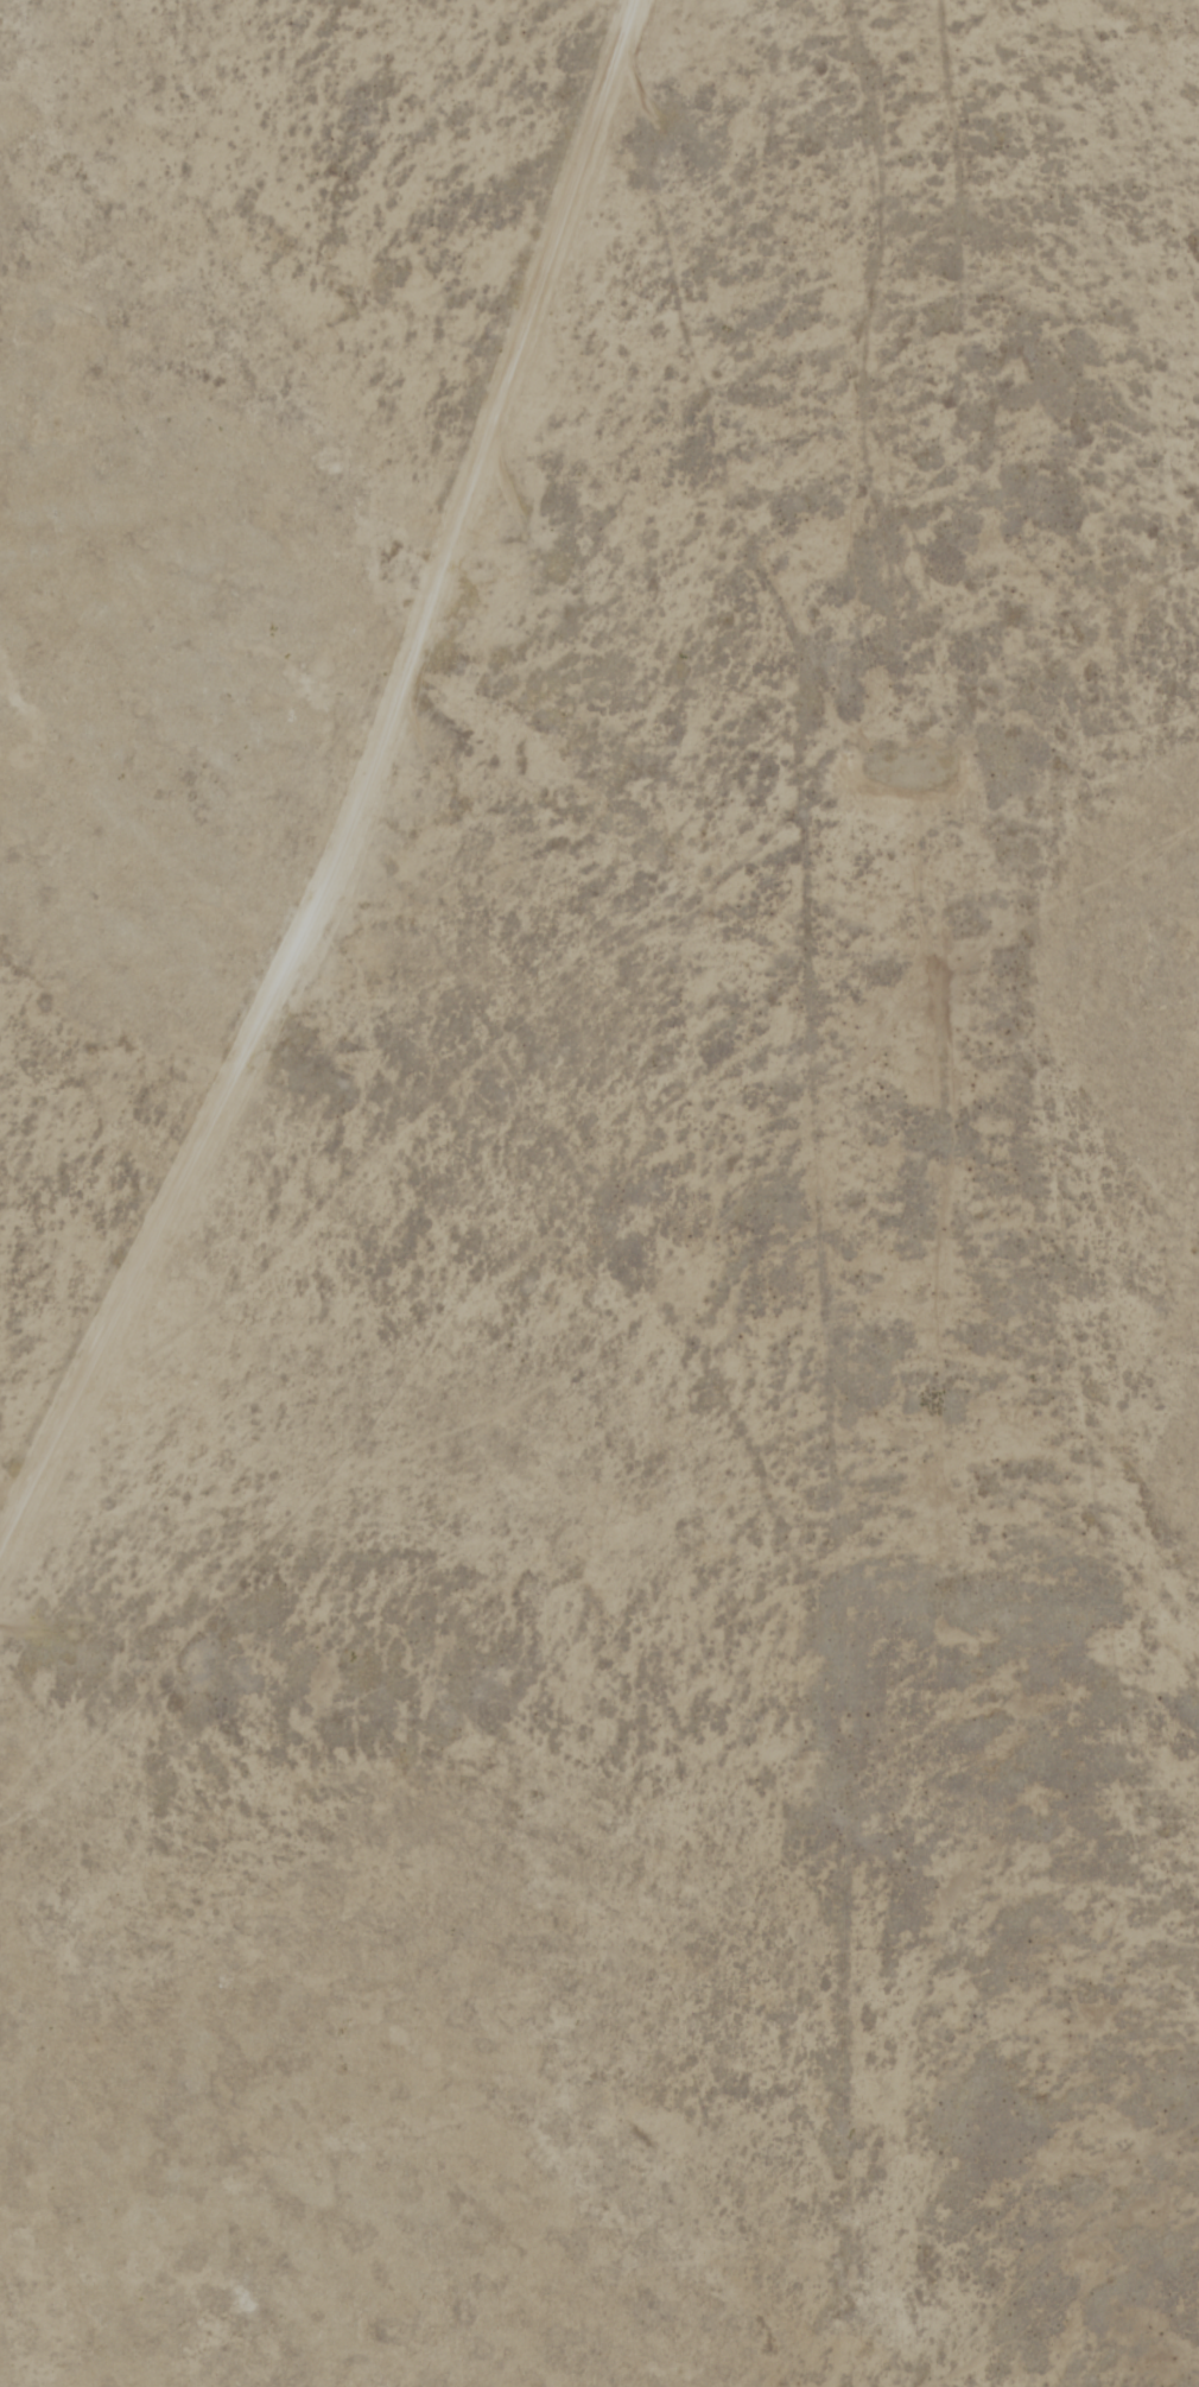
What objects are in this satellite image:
road: (394, 878)

